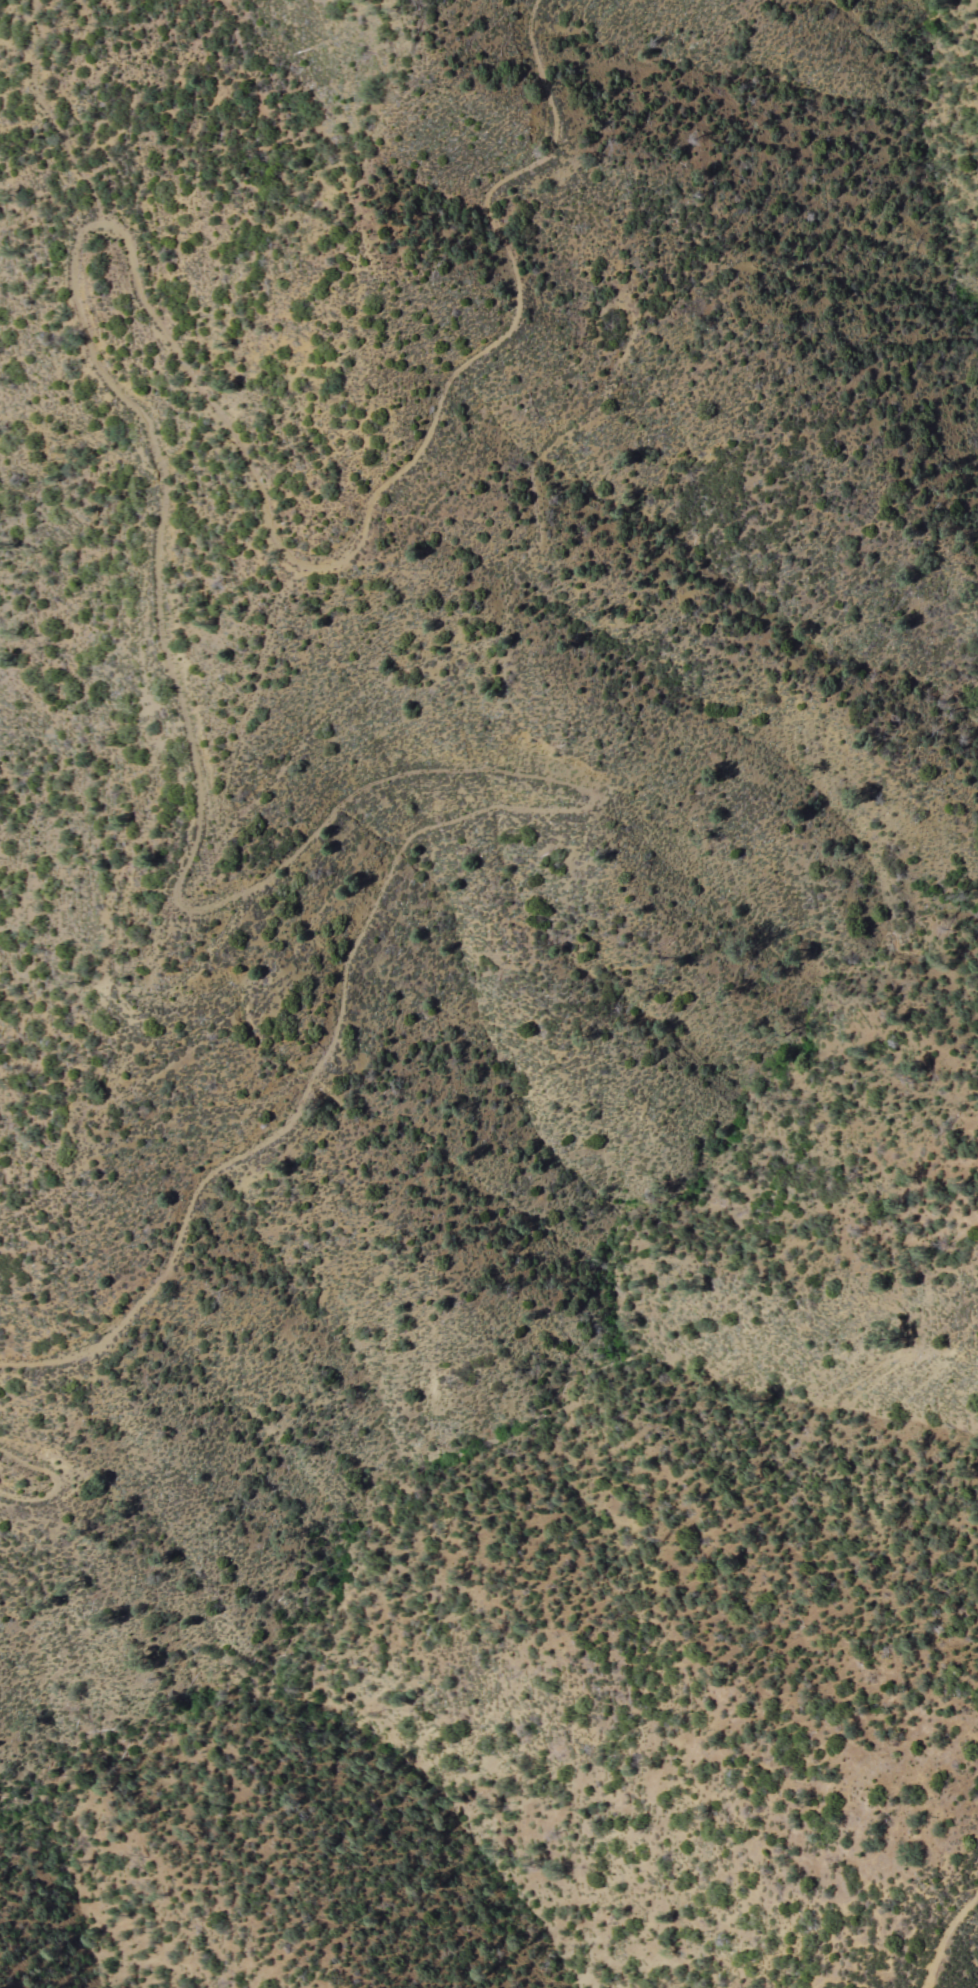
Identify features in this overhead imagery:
road: (148, 464)
road: (45, 1480)

